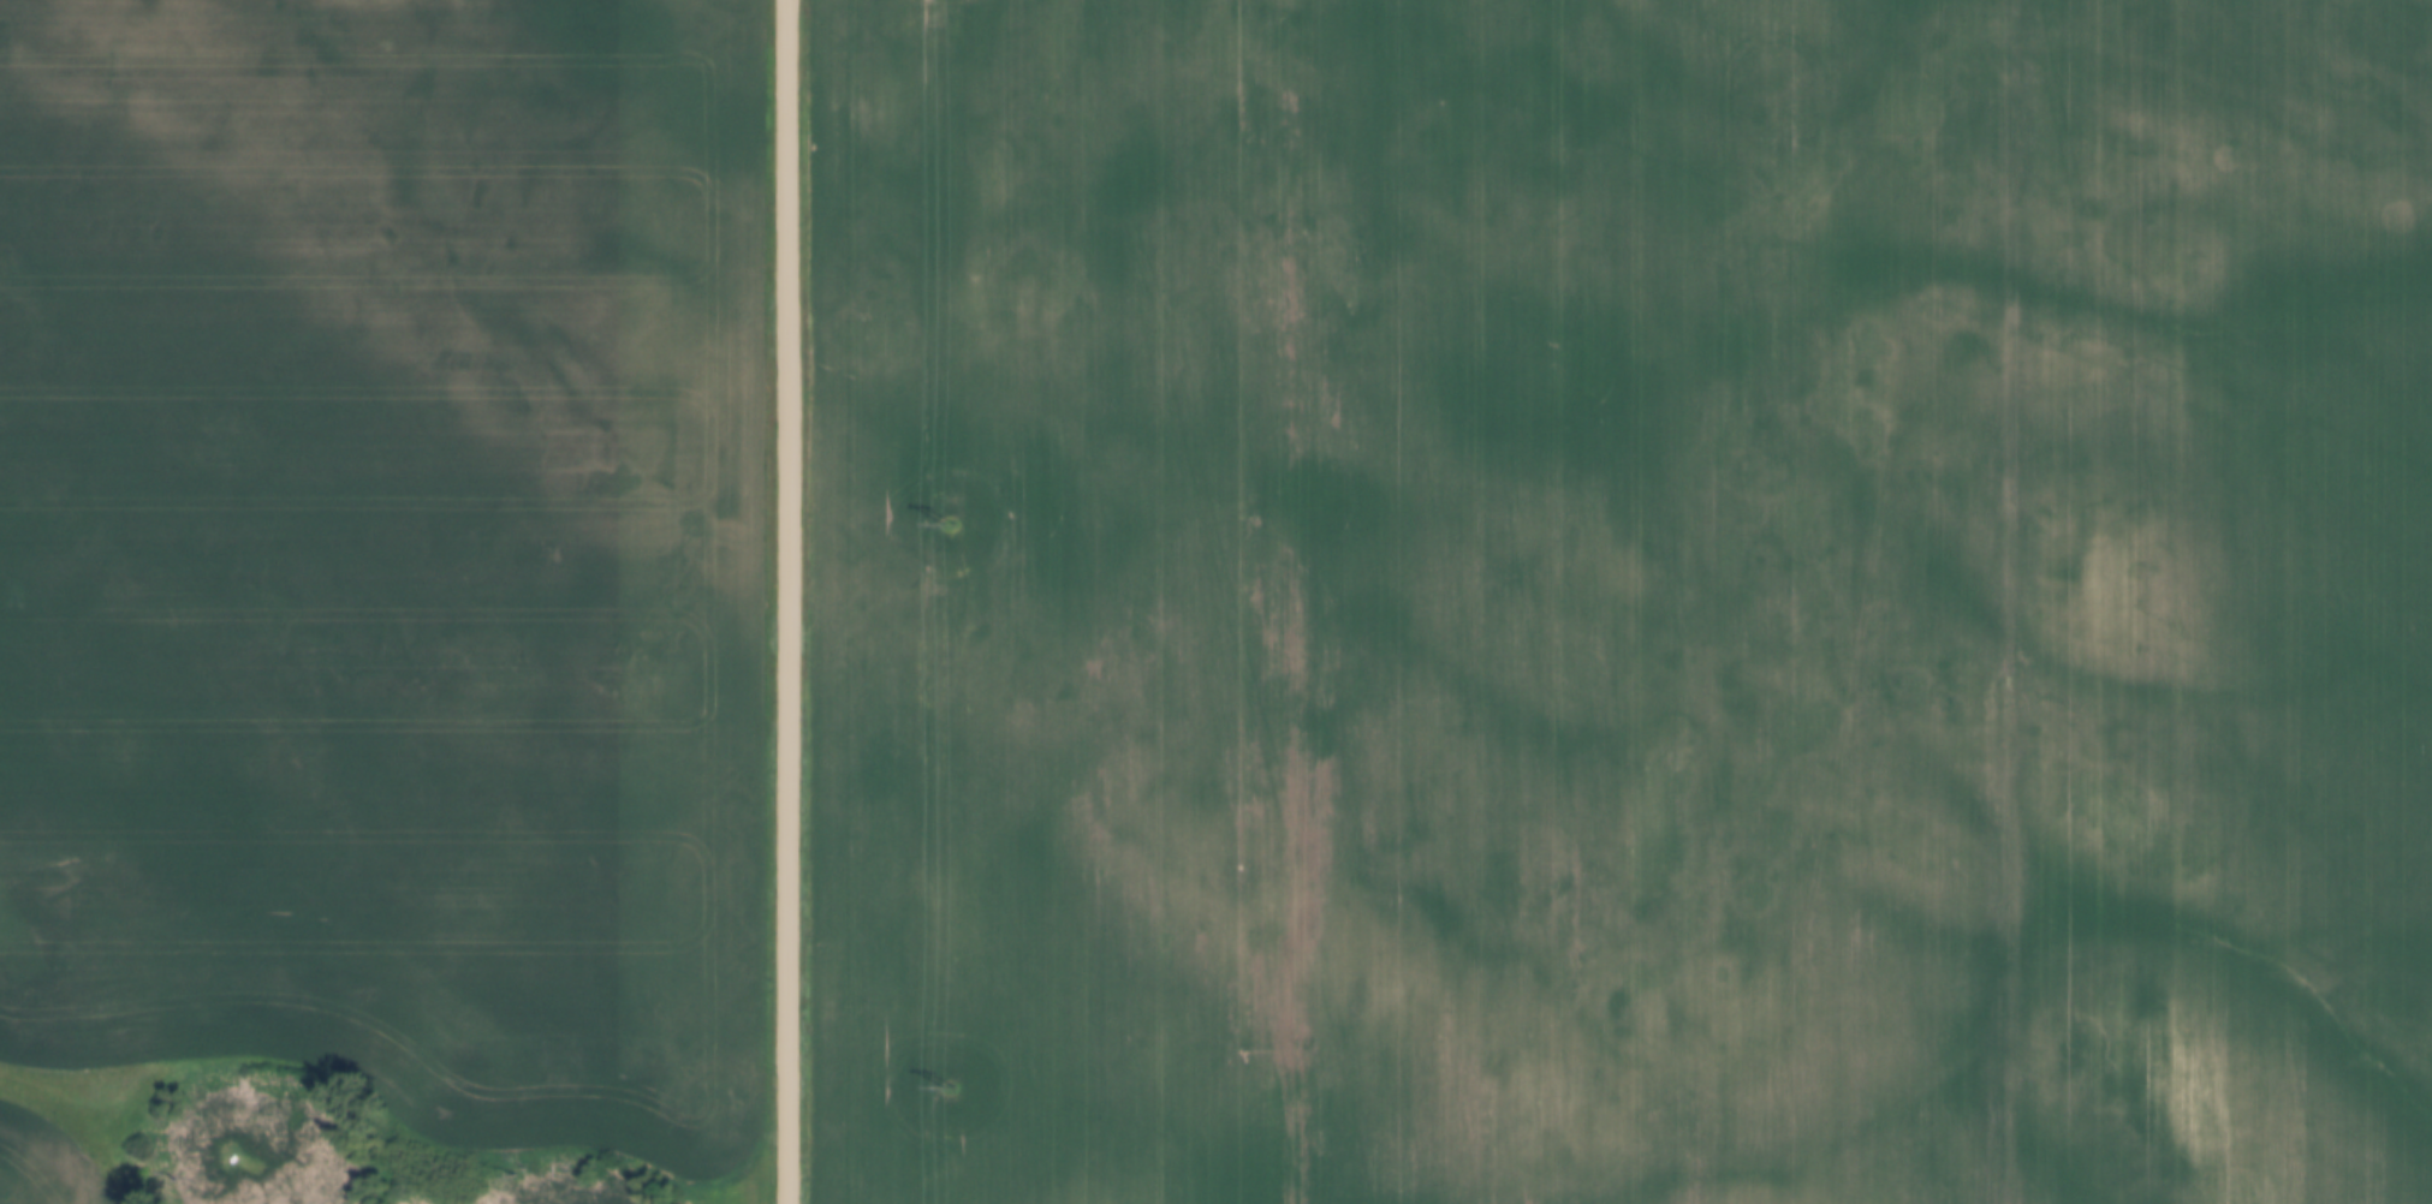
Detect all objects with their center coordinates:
road: (780, 602)

